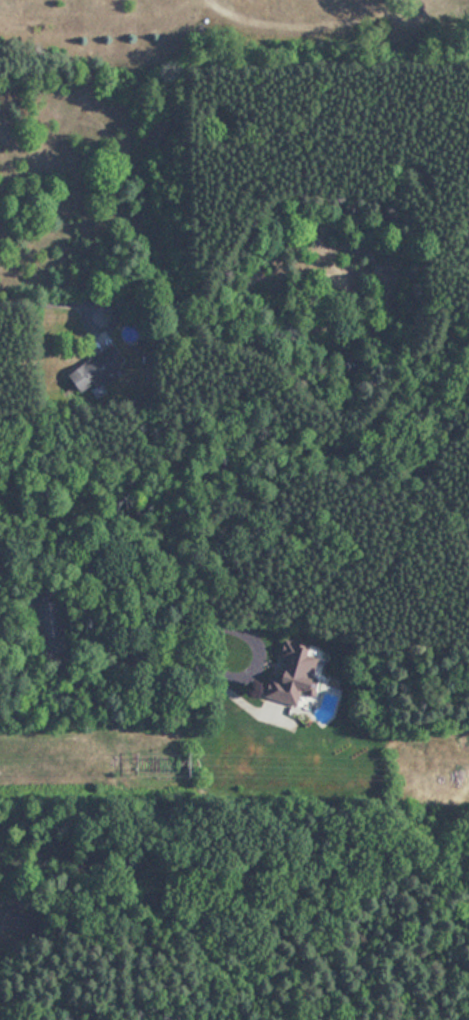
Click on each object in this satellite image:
road: (50, 300)
building: (100, 364)
building: (297, 683)
power tower: (196, 769)
building: (15, 921)

